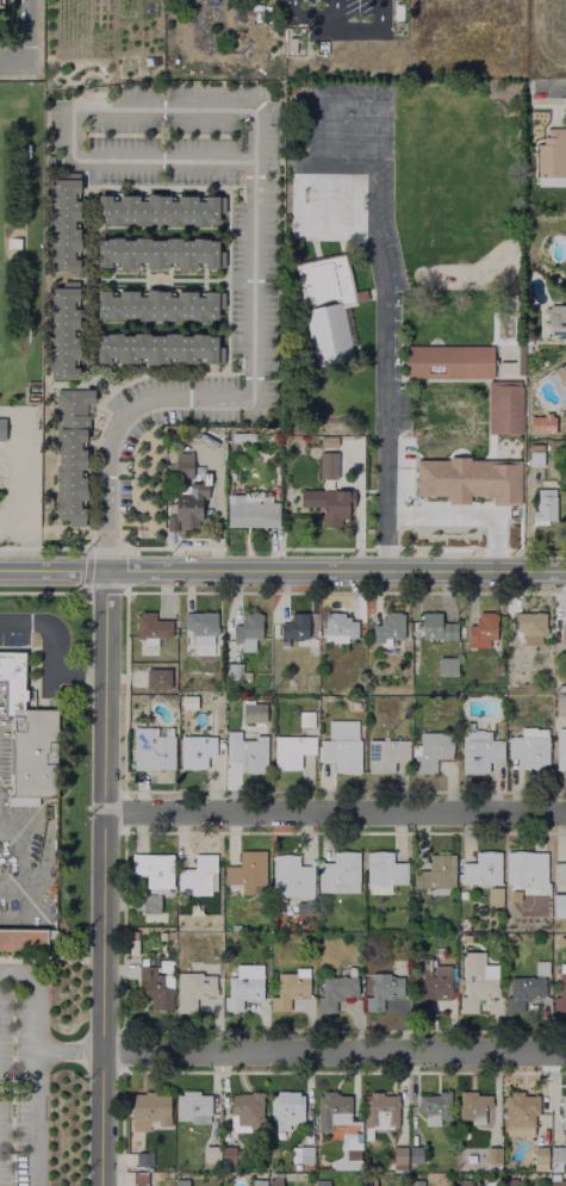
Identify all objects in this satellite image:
building: (0, 1)
parking lot: (338, 19)
road: (313, 21)
road: (25, 33)
road: (371, 33)
building: (292, 42)
crop: (99, 43)
road: (12, 67)
road: (551, 91)
road: (74, 110)
building: (548, 156)
parking lot: (342, 163)
building: (157, 209)
road: (297, 219)
building: (67, 221)
building: (158, 250)
park: (2, 253)
road: (378, 257)
building: (323, 281)
building: (157, 303)
building: (555, 321)
building: (66, 329)
building: (326, 334)
building: (157, 346)
building: (447, 360)
road: (229, 368)
building: (559, 372)
road: (225, 398)
building: (502, 405)
building: (1, 428)
building: (240, 435)
building: (326, 441)
building: (71, 453)
building: (533, 457)
building: (181, 464)
building: (325, 464)
building: (467, 479)
building: (187, 501)
building: (543, 503)
road: (216, 507)
building: (321, 508)
building: (248, 511)
road: (185, 545)
road: (85, 570)
road: (282, 571)
road: (41, 594)
building: (200, 622)
building: (151, 625)
building: (334, 625)
building: (524, 625)
building: (384, 626)
building: (430, 626)
building: (249, 627)
building: (291, 627)
building: (479, 629)
building: (560, 633)
building: (284, 644)
road: (52, 650)
building: (435, 665)
building: (151, 672)
building: (236, 672)
building: (290, 683)
building: (560, 688)
building: (250, 713)
building: (303, 719)
building: (27, 737)
building: (340, 747)
building: (527, 747)
building: (559, 747)
building: (148, 749)
building: (195, 749)
building: (288, 750)
building: (428, 751)
building: (243, 752)
building: (382, 753)
building: (477, 753)
road: (334, 812)
road: (31, 858)
building: (479, 868)
building: (149, 869)
building: (247, 871)
building: (525, 871)
building: (291, 873)
building: (341, 873)
building: (381, 874)
building: (434, 874)
building: (198, 876)
road: (101, 877)
building: (565, 887)
building: (492, 895)
building: (147, 904)
building: (279, 907)
building: (300, 907)
building: (464, 923)
building: (162, 936)
building: (465, 939)
building: (511, 939)
building: (21, 942)
building: (558, 942)
building: (133, 948)
building: (143, 961)
road: (43, 963)
building: (164, 965)
building: (540, 968)
building: (474, 983)
building: (425, 985)
building: (244, 986)
building: (150, 988)
building: (290, 988)
building: (334, 988)
building: (194, 989)
building: (382, 989)
building: (559, 989)
building: (521, 992)
road: (67, 1051)
road: (332, 1053)
road: (35, 1066)
parking lot: (23, 1076)
building: (469, 1106)
building: (193, 1107)
building: (433, 1107)
building: (243, 1109)
building: (284, 1109)
building: (149, 1110)
building: (328, 1110)
building: (377, 1111)
building: (561, 1112)
building: (517, 1113)
building: (209, 1154)
building: (299, 1155)
building: (349, 1155)
building: (396, 1155)
building: (415, 1155)
building: (490, 1155)
building: (554, 1156)
building: (537, 1157)
building: (139, 1159)
building: (366, 1176)
building: (489, 1178)
building: (139, 1179)
building: (180, 1182)
building: (254, 1182)
building: (413, 1182)
building: (508, 1182)
building: (272, 1184)
building: (321, 1184)
building: (460, 1184)
building: (554, 1184)

